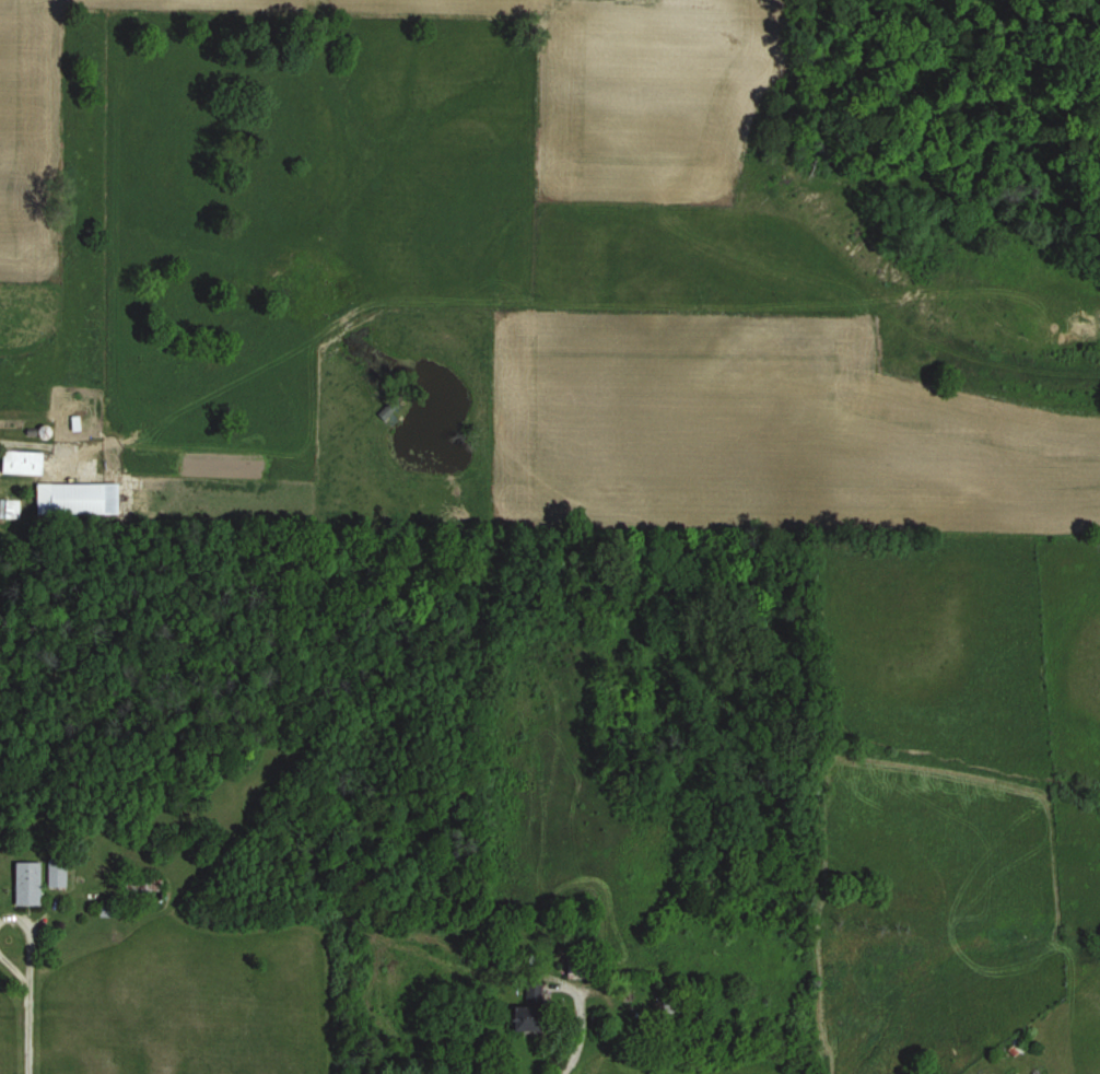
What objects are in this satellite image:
building: (21, 462)
building: (77, 499)
building: (9, 509)
building: (56, 873)
building: (26, 884)
building: (141, 890)
building: (581, 968)
road: (28, 1001)
building: (528, 1007)
building: (676, 1012)
road: (578, 1035)

